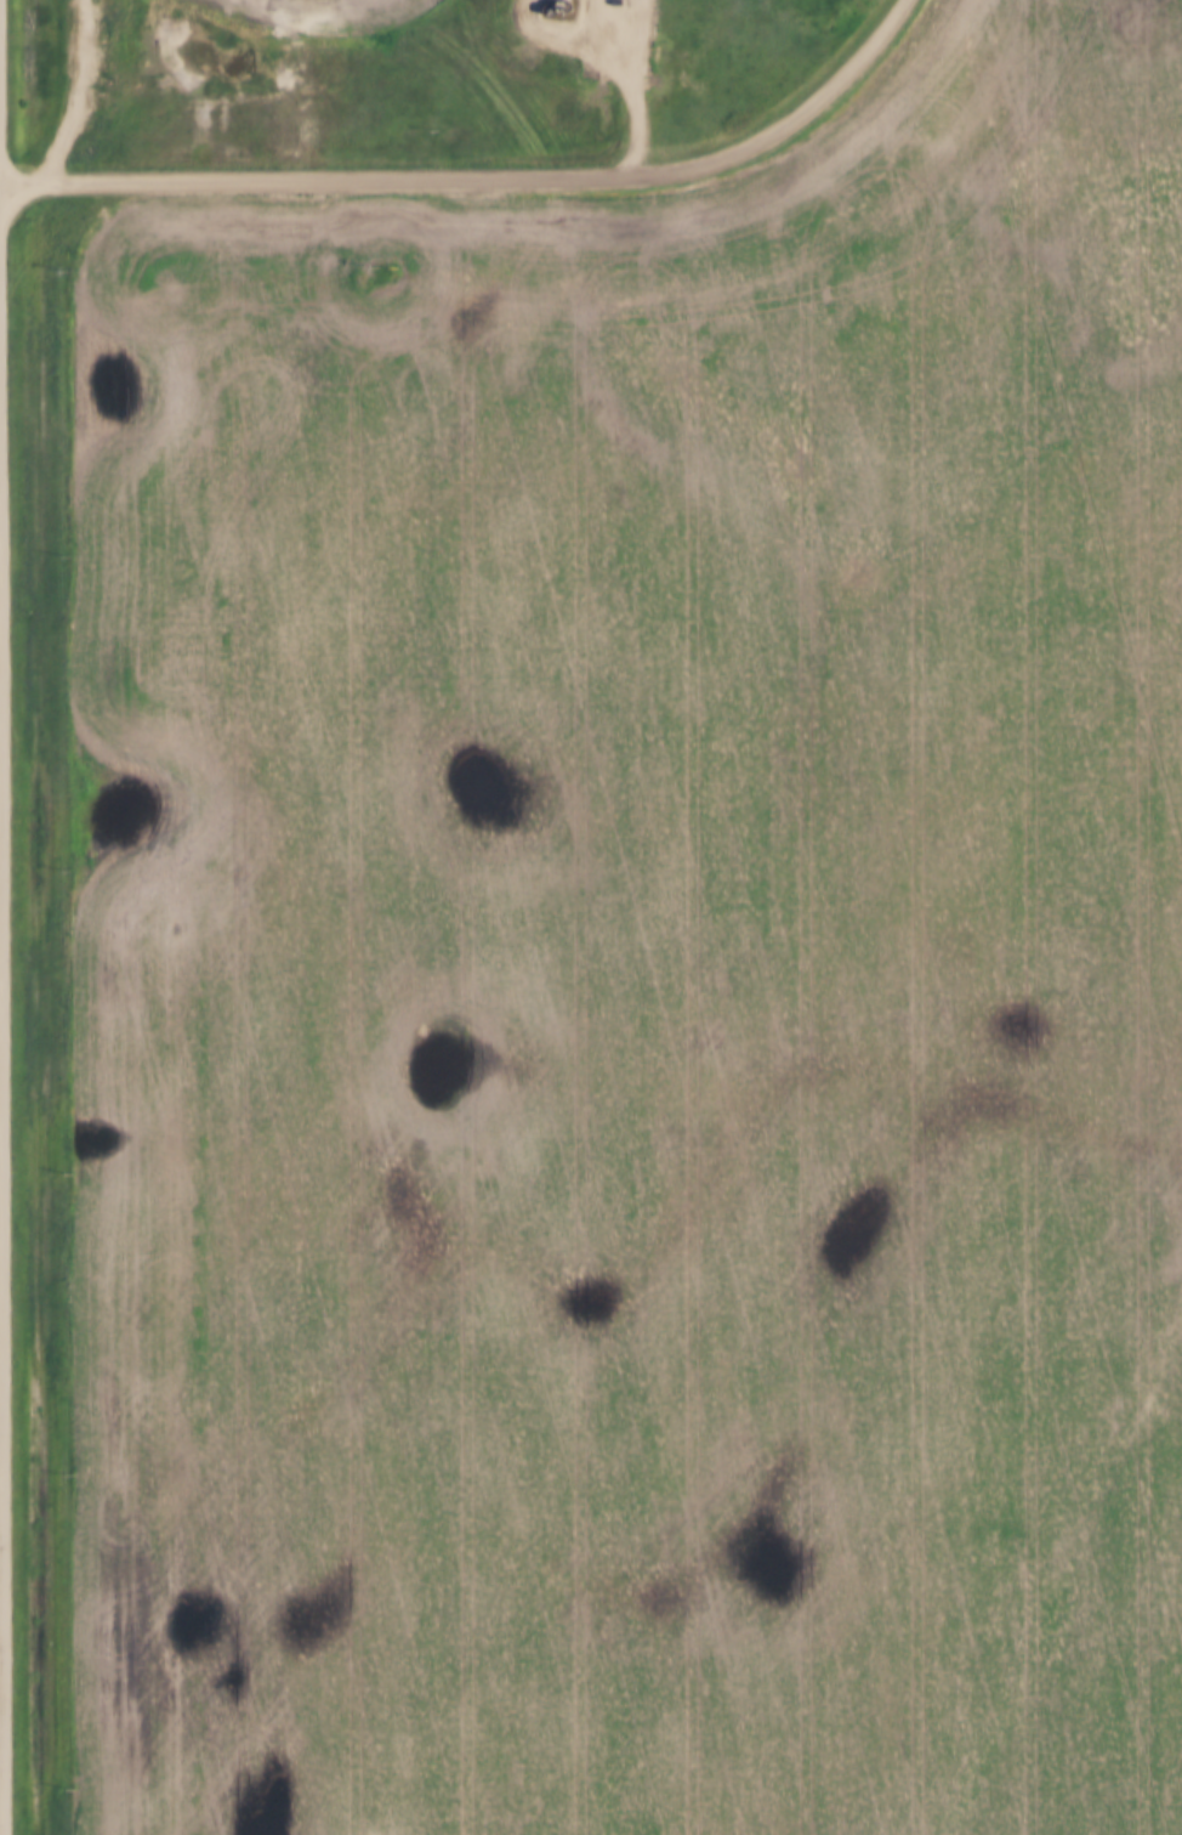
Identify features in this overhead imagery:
road: (79, 90)
road: (643, 107)
road: (785, 121)
road: (312, 175)
road: (1, 610)
road: (4, 1060)

